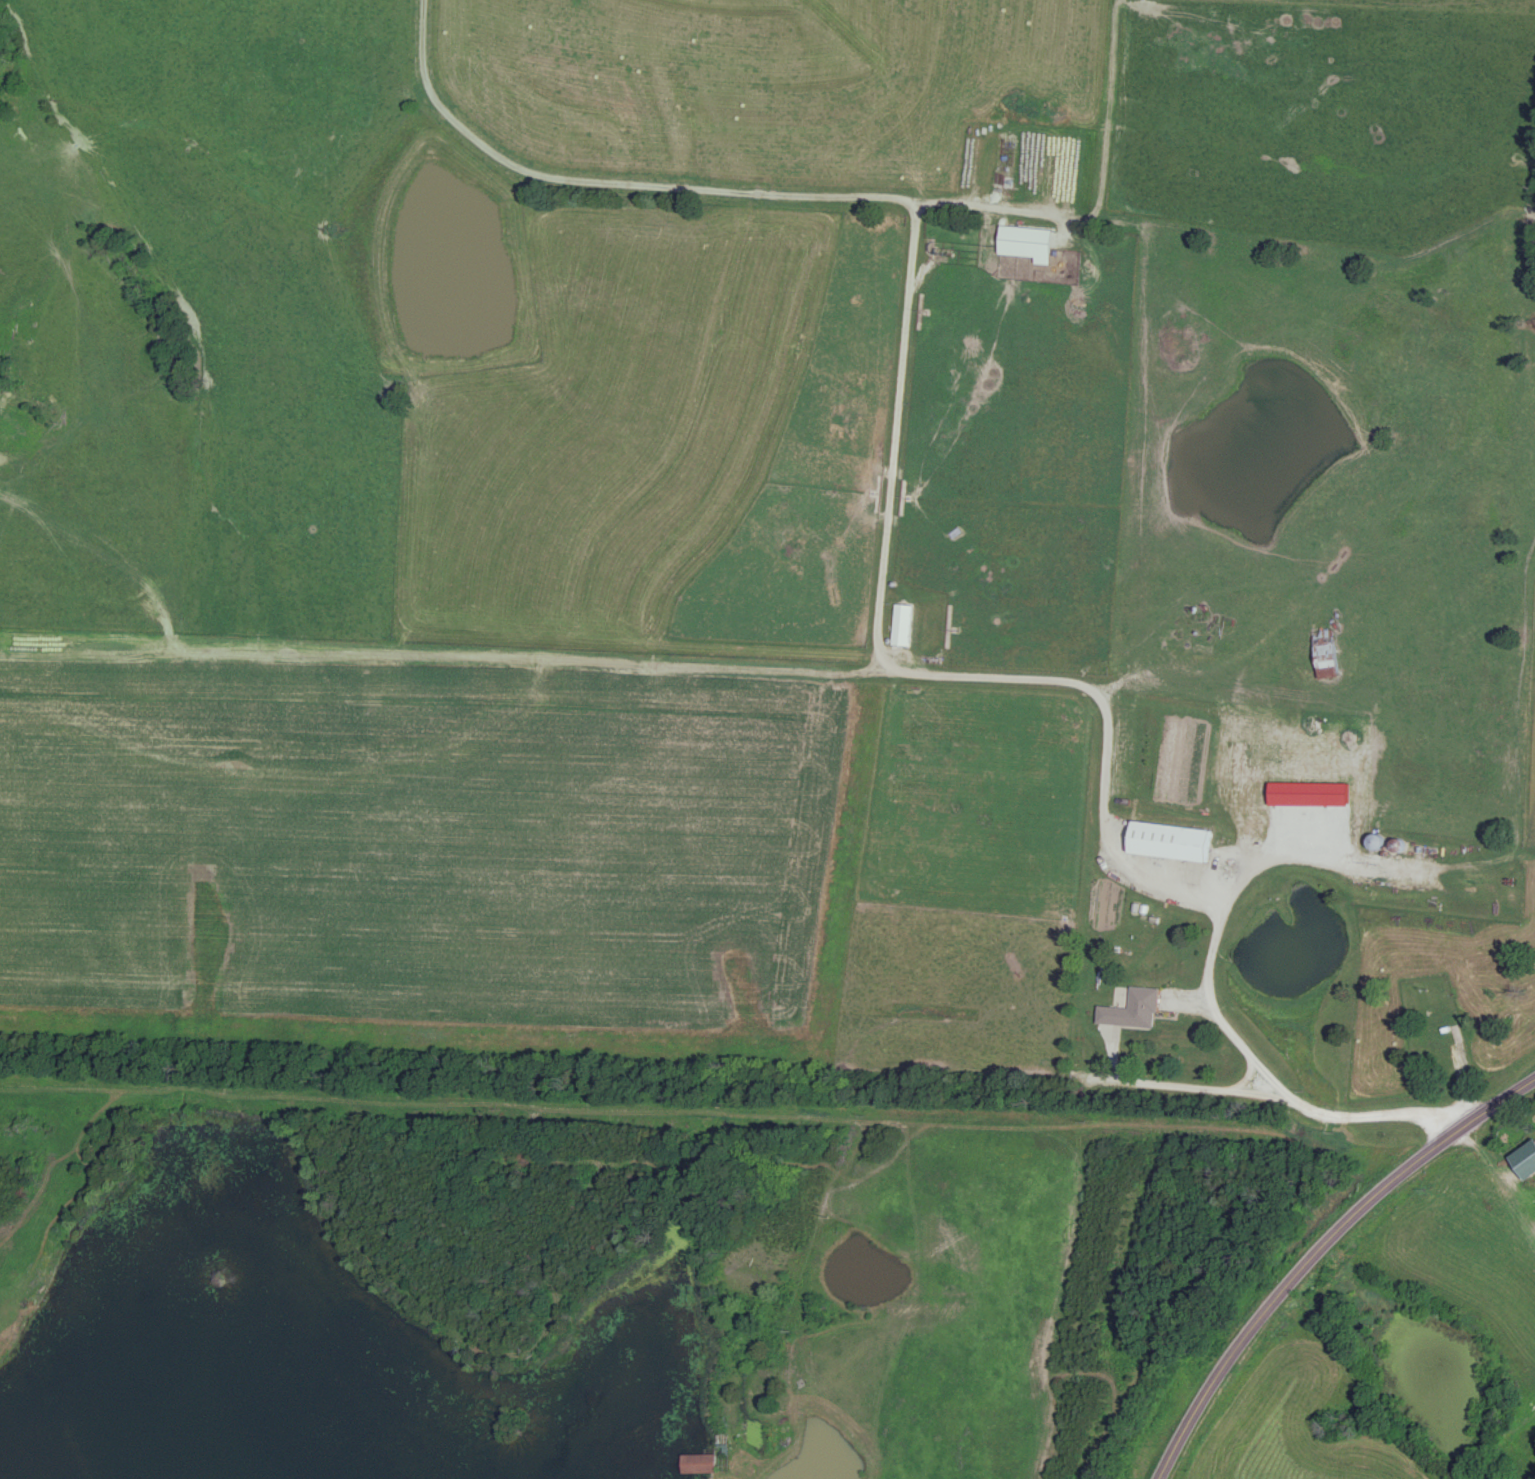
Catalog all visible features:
building: (1006, 161)
road: (985, 206)
road: (1135, 453)
road: (885, 483)
building: (901, 625)
building: (1326, 654)
road: (1213, 684)
building: (1238, 759)
building: (1349, 822)
building: (1170, 842)
road: (1284, 848)
building: (1137, 1009)
building: (1436, 1040)
road: (731, 1106)
road: (1324, 1255)
building: (697, 1463)

